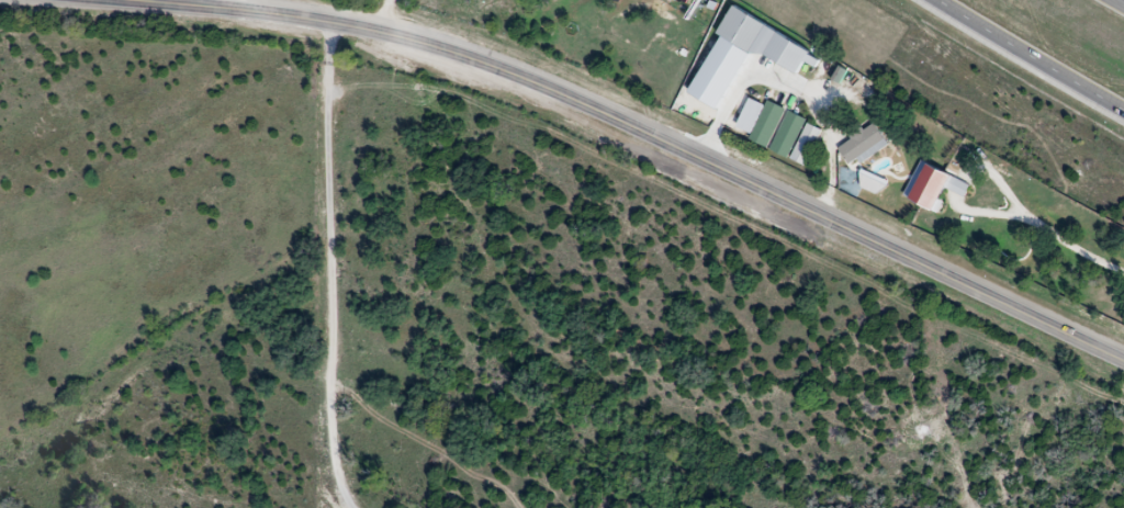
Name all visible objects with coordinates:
road: (155, 0)
building: (558, 0)
road: (385, 15)
building: (746, 29)
road: (1031, 55)
road: (796, 77)
building: (769, 124)
road: (648, 133)
building: (791, 134)
building: (865, 145)
building: (937, 185)
road: (1044, 234)
road: (327, 267)

